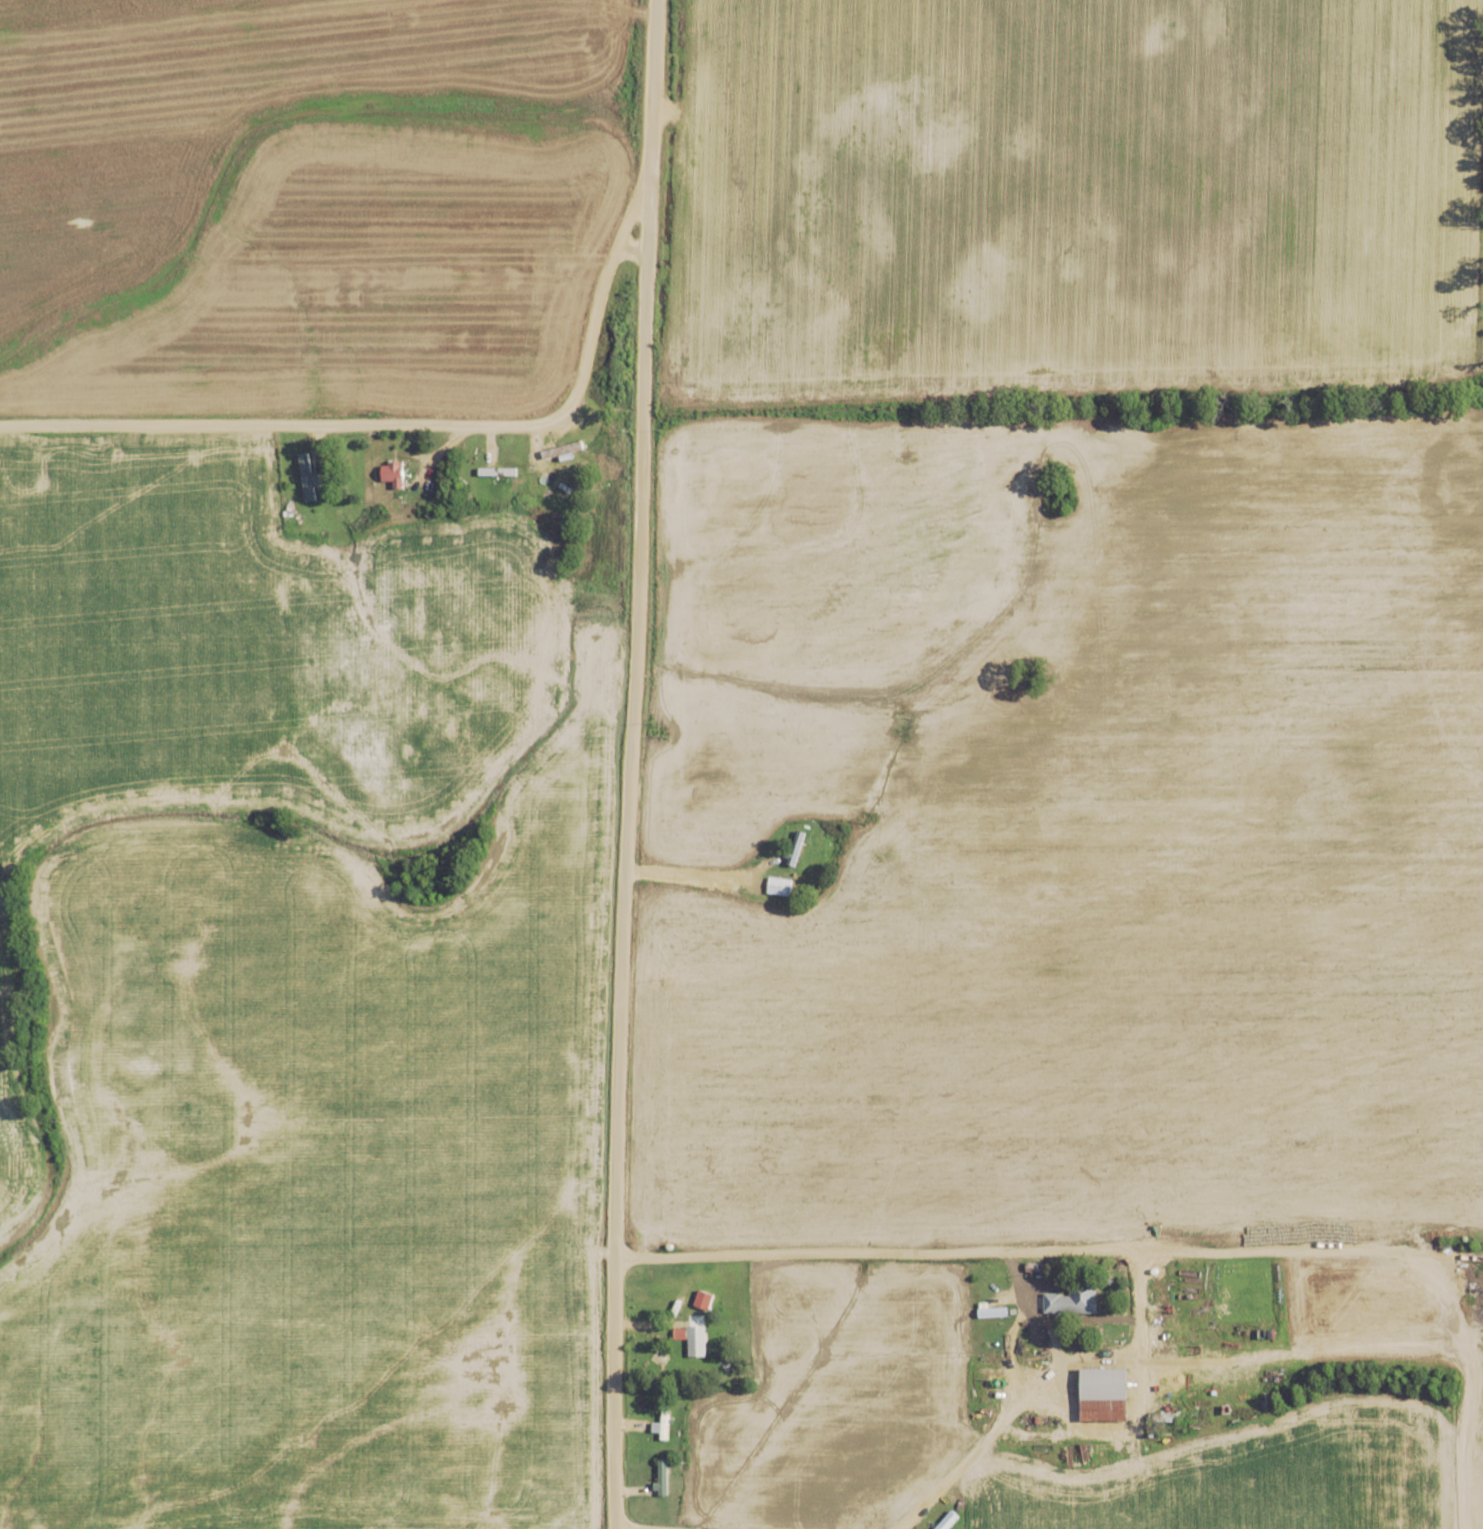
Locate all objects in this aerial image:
road: (404, 425)
building: (393, 473)
building: (553, 475)
building: (500, 487)
road: (630, 764)
building: (795, 846)
road: (1050, 1263)
building: (1074, 1299)
building: (1002, 1311)
building: (1036, 1334)
building: (697, 1341)
building: (1106, 1393)
building: (663, 1415)
building: (664, 1477)
building: (949, 1521)

